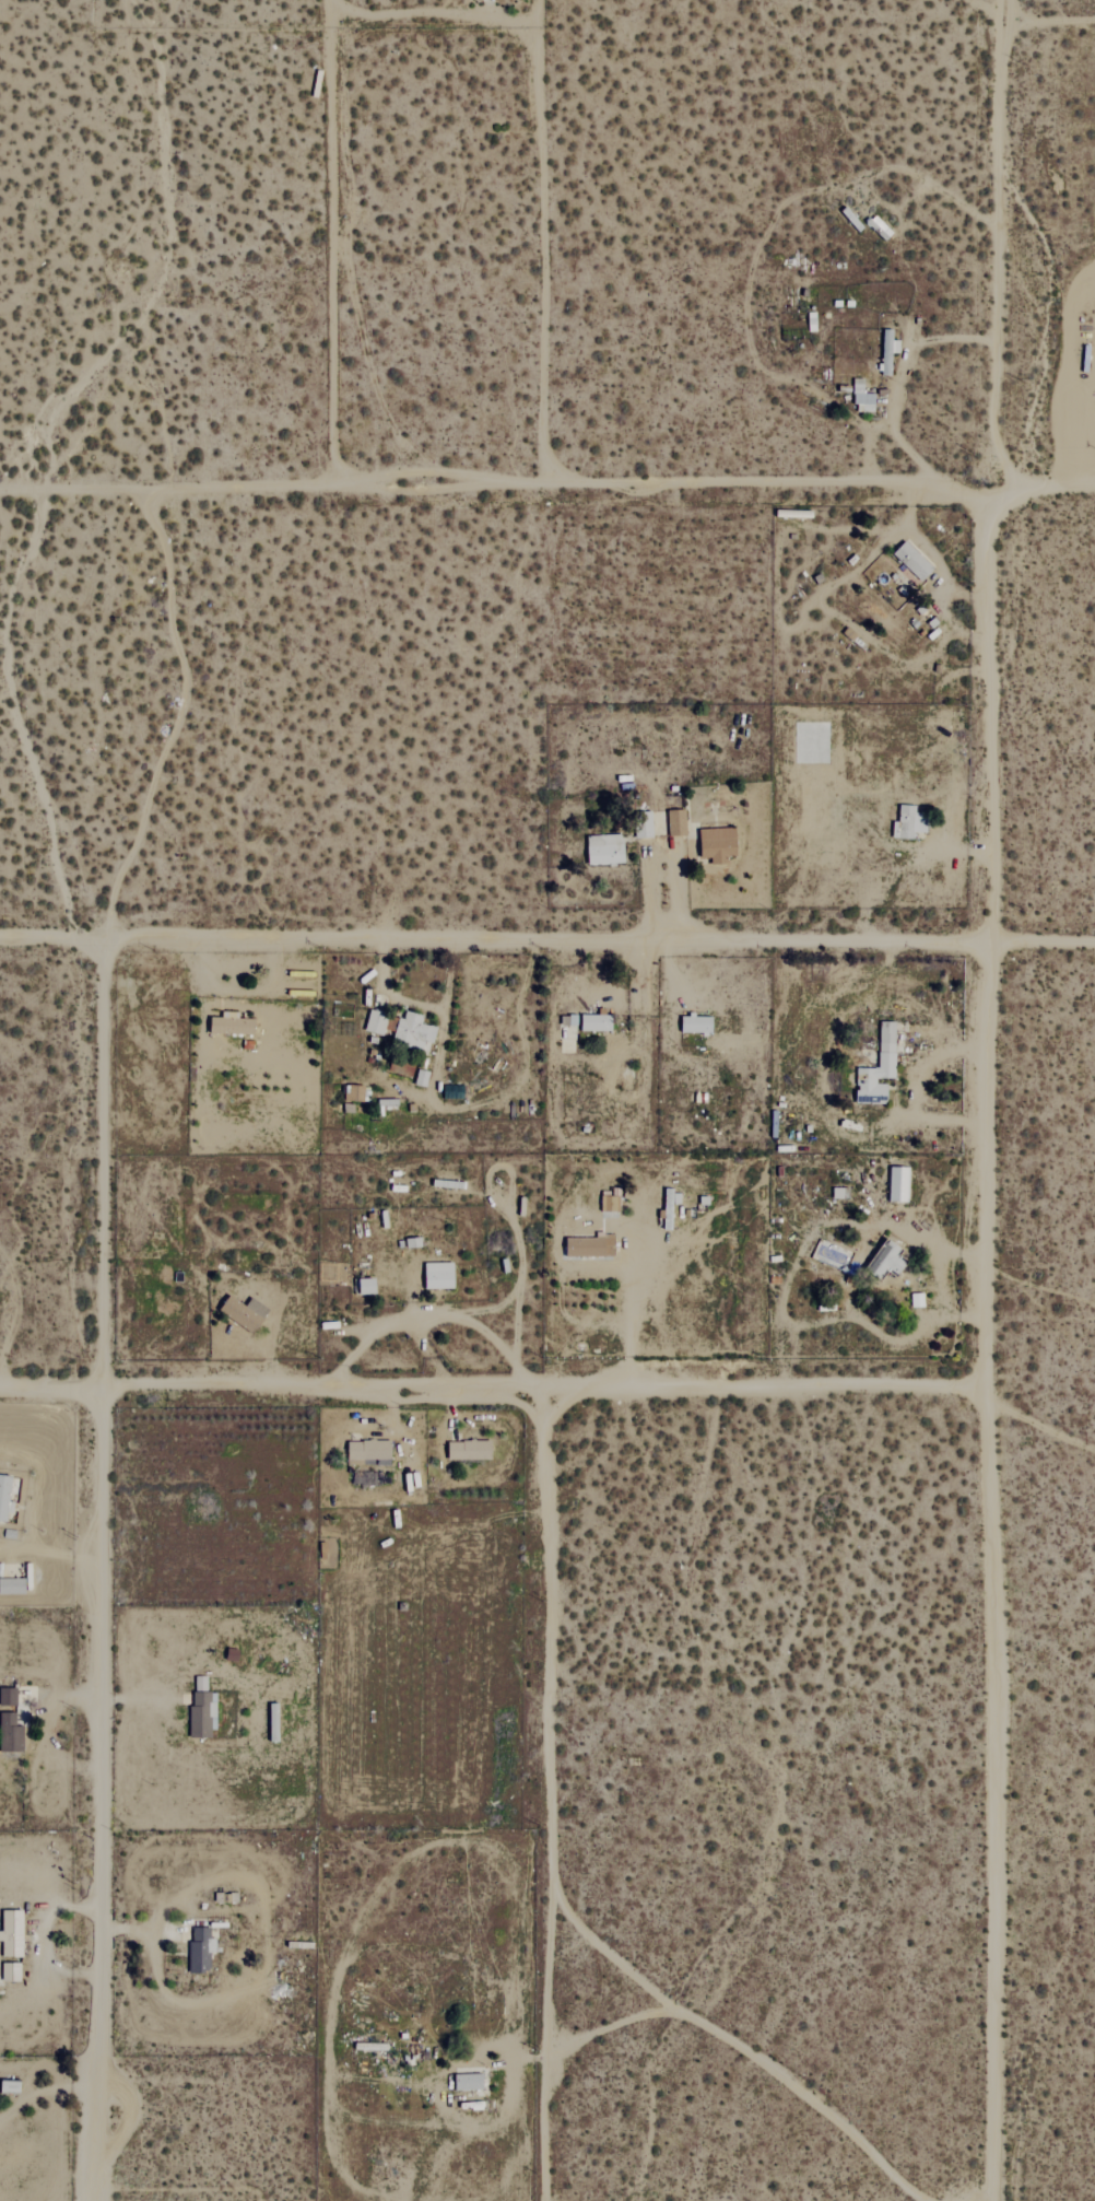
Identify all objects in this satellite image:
road: (334, 5)
road: (428, 13)
road: (532, 13)
road: (1048, 17)
road: (767, 232)
building: (888, 351)
road: (897, 376)
building: (863, 397)
road: (871, 445)
road: (497, 480)
road: (1046, 481)
building: (914, 561)
building: (676, 822)
building: (905, 822)
building: (718, 844)
building: (605, 848)
road: (662, 858)
road: (546, 937)
road: (417, 1002)
building: (376, 1021)
building: (597, 1021)
building: (697, 1023)
building: (233, 1026)
building: (414, 1031)
building: (879, 1068)
road: (912, 1087)
road: (496, 1094)
road: (988, 1100)
building: (899, 1183)
building: (611, 1202)
building: (591, 1245)
building: (886, 1261)
building: (439, 1275)
road: (519, 1276)
road: (933, 1284)
building: (368, 1286)
building: (918, 1300)
road: (491, 1309)
road: (627, 1311)
building: (245, 1312)
road: (427, 1316)
road: (275, 1324)
road: (490, 1383)
building: (470, 1450)
building: (369, 1452)
building: (4, 1496)
road: (50, 1550)
road: (101, 1565)
building: (12, 1585)
building: (9, 1696)
road: (139, 1701)
building: (203, 1710)
building: (11, 1733)
road: (259, 1921)
building: (12, 1933)
road: (39, 1941)
building: (201, 1950)
building: (11, 1971)
building: (469, 2082)
building: (11, 2086)
road: (46, 2089)
road: (419, 2151)

